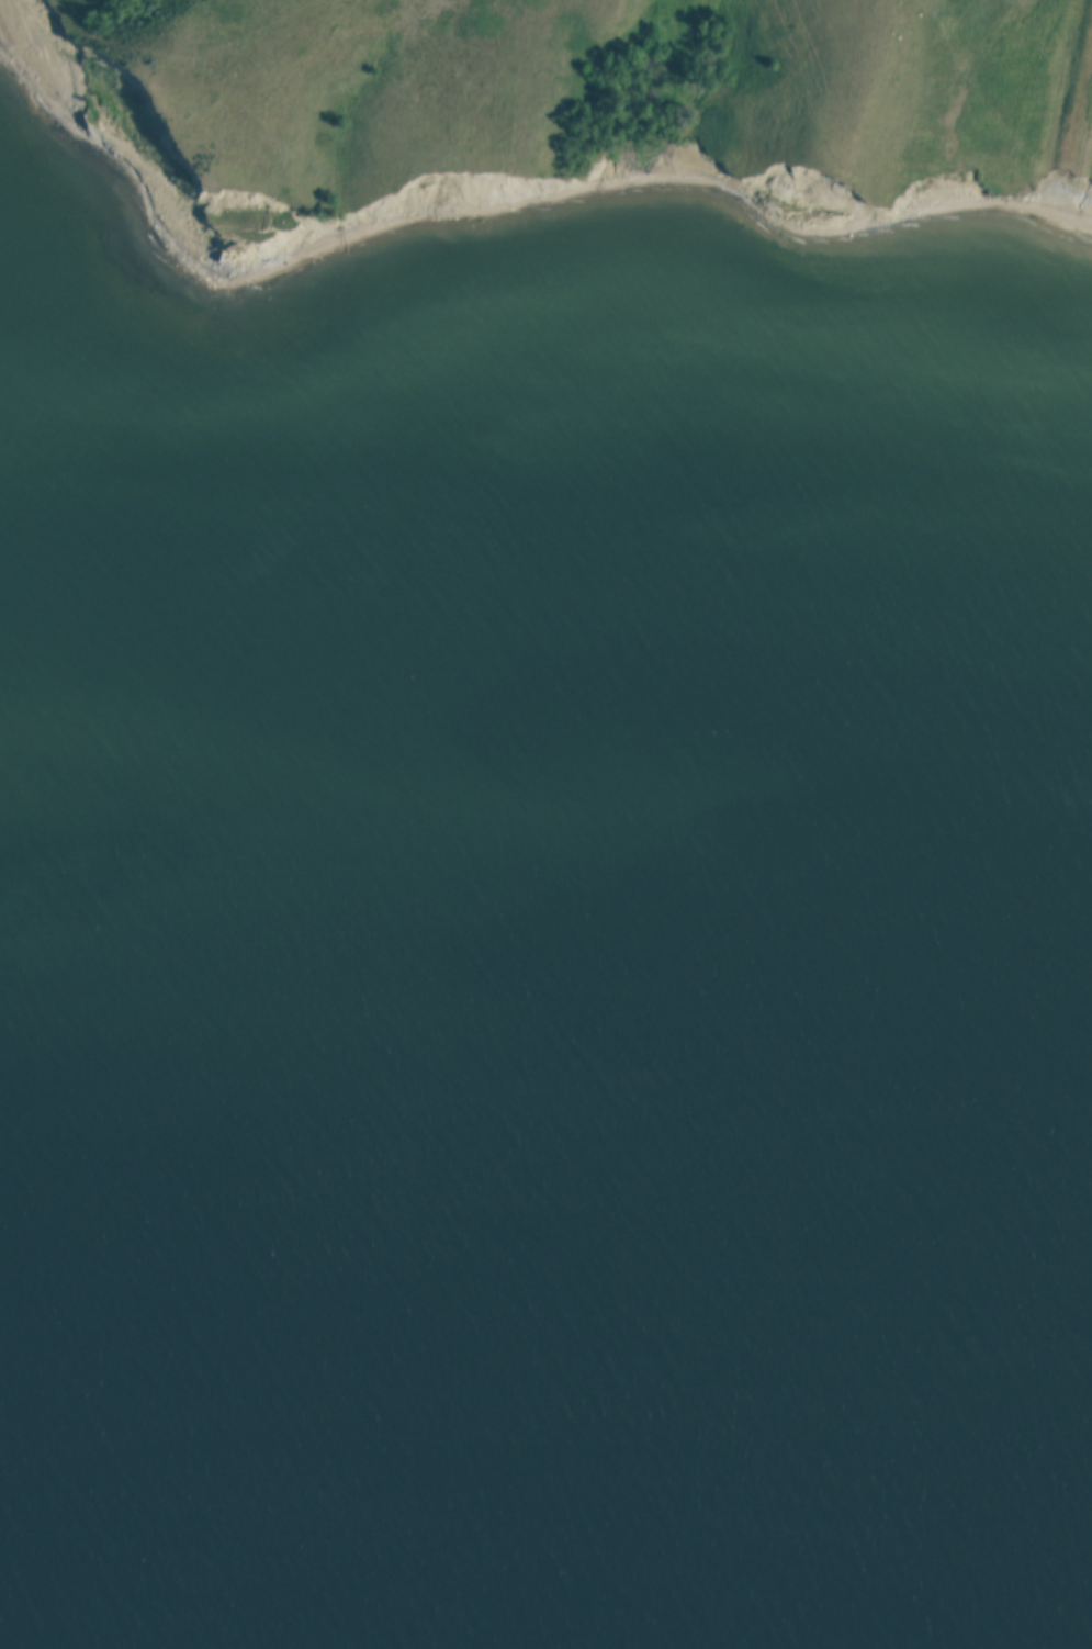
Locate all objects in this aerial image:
road: (1079, 175)

